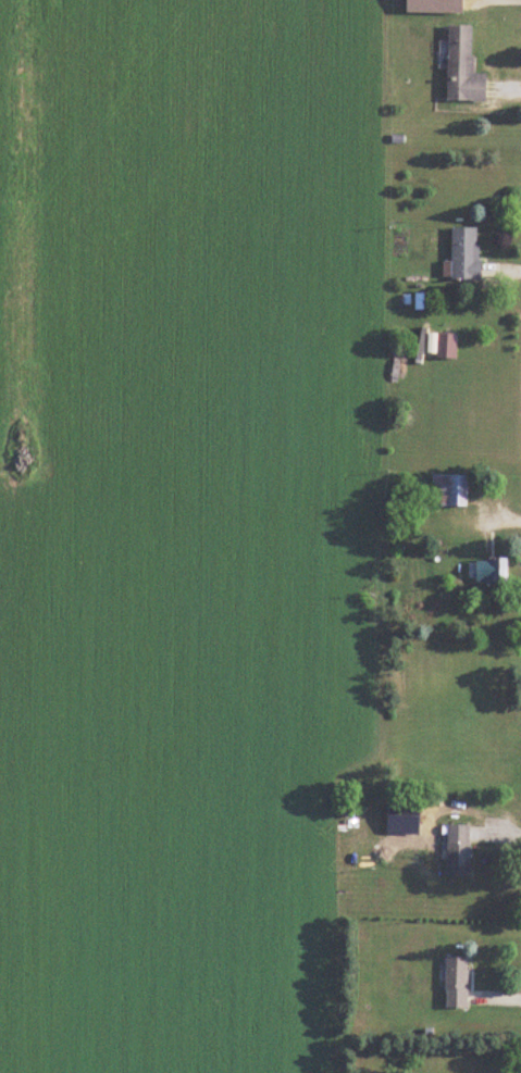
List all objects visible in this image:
building: (463, 66)
building: (463, 253)
building: (447, 346)
building: (449, 489)
building: (492, 570)
building: (458, 850)
building: (457, 982)

